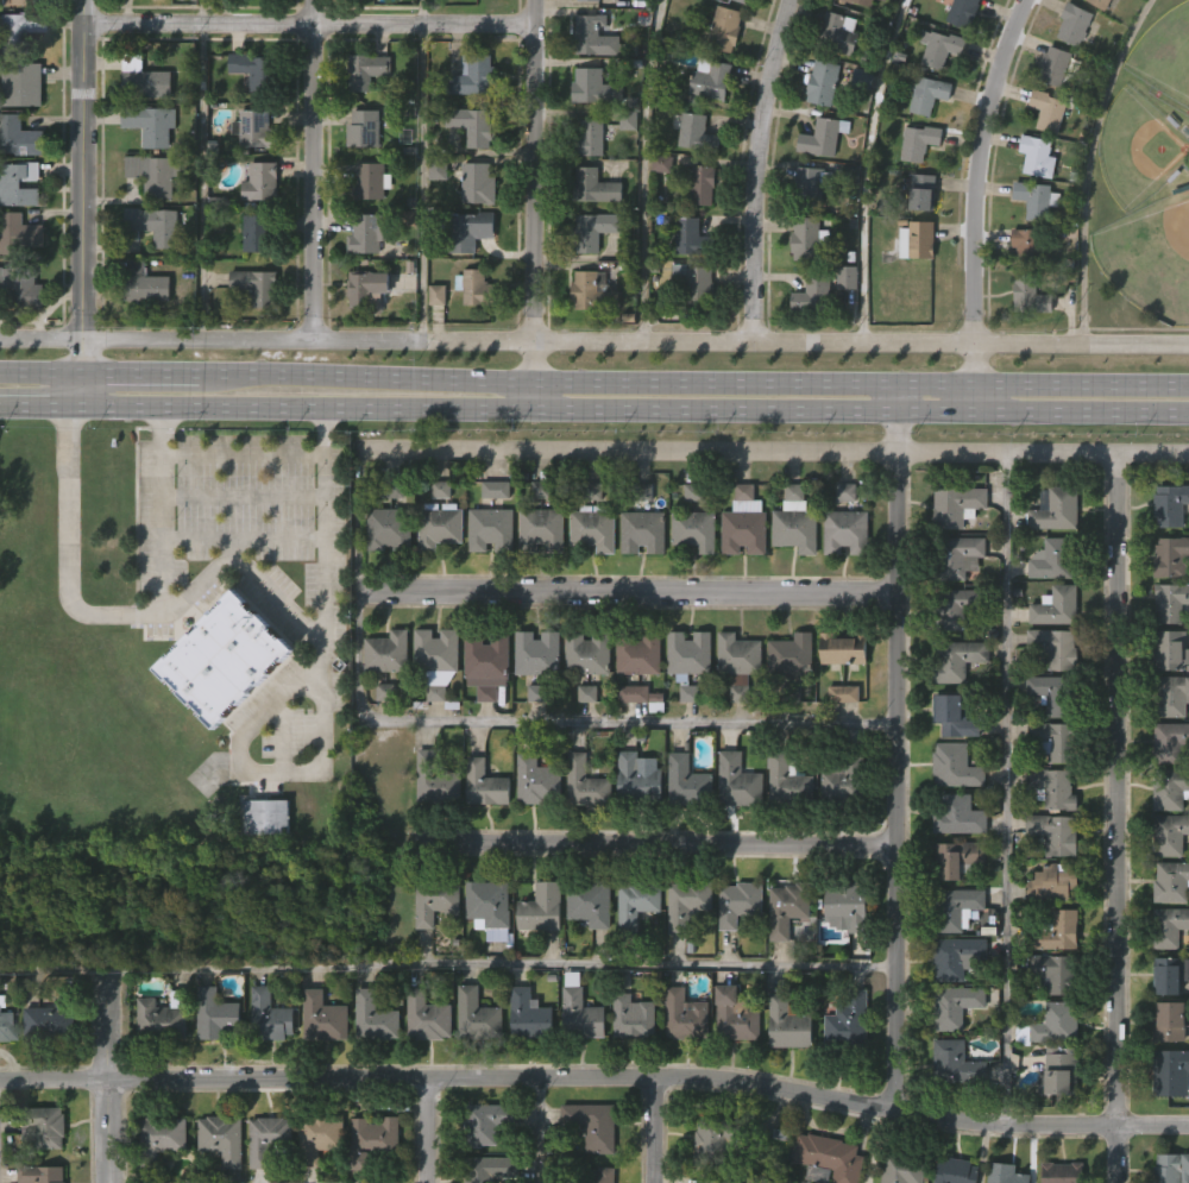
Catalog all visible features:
building: (746, 0)
building: (13, 1)
building: (34, 1)
building: (864, 2)
building: (1100, 4)
building: (962, 11)
building: (149, 17)
building: (244, 17)
building: (358, 21)
building: (466, 23)
building: (1075, 23)
road: (309, 25)
building: (18, 26)
building: (724, 27)
building: (838, 32)
building: (1095, 34)
building: (598, 37)
building: (944, 48)
park: (1164, 55)
building: (958, 57)
building: (1055, 64)
building: (253, 69)
building: (366, 69)
building: (1069, 73)
building: (472, 75)
building: (143, 77)
building: (710, 80)
building: (823, 81)
building: (20, 84)
building: (594, 86)
building: (927, 92)
building: (1049, 109)
building: (150, 124)
building: (472, 125)
building: (363, 127)
building: (253, 128)
building: (697, 132)
building: (17, 136)
building: (823, 136)
building: (587, 138)
building: (920, 141)
park: (1137, 150)
building: (1038, 156)
road: (1087, 168)
road: (317, 169)
road: (202, 170)
road: (421, 170)
road: (755, 170)
building: (152, 171)
road: (642, 171)
road: (864, 171)
building: (259, 181)
building: (369, 181)
building: (18, 183)
building: (476, 183)
building: (702, 183)
building: (811, 184)
road: (84, 185)
building: (593, 185)
road: (537, 189)
building: (923, 190)
building: (1037, 197)
road: (976, 201)
building: (656, 213)
building: (433, 220)
building: (157, 225)
building: (466, 229)
building: (592, 229)
building: (256, 232)
building: (367, 233)
building: (17, 234)
building: (690, 235)
building: (809, 238)
building: (917, 240)
building: (1030, 245)
park: (1151, 258)
building: (144, 283)
building: (254, 284)
building: (697, 285)
building: (19, 287)
building: (370, 287)
building: (474, 287)
building: (800, 289)
building: (912, 289)
building: (593, 290)
building: (813, 294)
building: (1032, 295)
building: (842, 326)
building: (692, 329)
building: (140, 333)
building: (251, 334)
building: (363, 336)
building: (471, 336)
building: (19, 338)
building: (589, 338)
road: (594, 342)
building: (433, 344)
building: (807, 345)
building: (1025, 345)
road: (40, 370)
road: (140, 371)
road: (367, 373)
road: (863, 380)
road: (75, 388)
road: (537, 395)
road: (33, 403)
road: (628, 409)
road: (245, 451)
road: (773, 452)
building: (496, 489)
road: (244, 495)
building: (1171, 504)
building: (957, 505)
building: (1057, 509)
road: (161, 510)
road: (357, 521)
building: (797, 522)
building: (744, 523)
building: (439, 526)
building: (388, 528)
building: (593, 528)
building: (491, 529)
building: (541, 529)
building: (694, 530)
building: (643, 531)
building: (847, 531)
road: (243, 540)
building: (956, 556)
building: (1171, 556)
building: (1055, 559)
road: (220, 562)
building: (791, 571)
building: (740, 572)
building: (435, 575)
building: (384, 577)
building: (537, 577)
building: (486, 578)
building: (589, 579)
building: (690, 579)
building: (841, 580)
building: (637, 581)
road: (630, 591)
building: (1172, 603)
building: (958, 605)
building: (1057, 606)
building: (1057, 647)
building: (1169, 648)
building: (844, 649)
building: (386, 652)
building: (589, 652)
building: (688, 653)
building: (537, 654)
building: (792, 654)
building: (225, 657)
building: (436, 660)
building: (957, 660)
building: (487, 663)
building: (738, 663)
building: (640, 667)
building: (843, 693)
building: (1055, 694)
building: (1170, 696)
building: (383, 700)
building: (533, 701)
building: (432, 703)
building: (581, 703)
building: (684, 703)
building: (786, 703)
building: (634, 704)
building: (219, 707)
building: (734, 711)
building: (483, 713)
road: (567, 717)
building: (955, 717)
road: (282, 734)
building: (382, 741)
building: (432, 741)
building: (533, 741)
building: (1056, 741)
building: (583, 742)
building: (684, 742)
building: (838, 742)
building: (1170, 742)
building: (636, 745)
road: (901, 747)
building: (956, 767)
road: (271, 772)
building: (788, 778)
building: (435, 779)
building: (536, 781)
building: (637, 781)
building: (688, 782)
building: (738, 782)
building: (586, 784)
building: (845, 784)
building: (484, 785)
building: (1053, 788)
building: (1170, 788)
road: (1007, 789)
building: (957, 814)
building: (265, 817)
road: (1121, 819)
building: (634, 825)
building: (837, 828)
building: (430, 829)
building: (682, 829)
building: (531, 830)
building: (732, 830)
building: (580, 831)
building: (782, 831)
building: (480, 832)
building: (1055, 833)
building: (1171, 835)
road: (660, 843)
building: (957, 860)
building: (262, 864)
building: (1172, 882)
building: (1052, 883)
building: (435, 901)
building: (589, 904)
building: (738, 904)
building: (636, 905)
building: (850, 905)
building: (958, 907)
building: (541, 908)
building: (685, 908)
building: (490, 910)
building: (787, 910)
building: (1057, 930)
building: (1171, 930)
building: (630, 952)
building: (734, 952)
building: (430, 954)
building: (585, 954)
building: (682, 954)
building: (485, 956)
building: (536, 956)
building: (841, 956)
building: (781, 957)
building: (958, 958)
road: (449, 962)
building: (1056, 970)
building: (1170, 975)
building: (956, 1006)
building: (583, 1011)
building: (215, 1014)
building: (477, 1014)
building: (529, 1014)
building: (634, 1014)
building: (269, 1015)
building: (322, 1015)
building: (427, 1015)
building: (164, 1017)
building: (375, 1017)
building: (687, 1017)
building: (736, 1017)
building: (49, 1020)
building: (848, 1021)
building: (1171, 1021)
building: (788, 1024)
building: (1052, 1024)
building: (8, 1025)
building: (575, 1059)
building: (210, 1062)
building: (523, 1062)
building: (472, 1063)
building: (680, 1063)
building: (730, 1063)
building: (957, 1063)
building: (265, 1065)
building: (319, 1065)
building: (370, 1065)
building: (423, 1065)
building: (628, 1065)
building: (155, 1066)
building: (843, 1068)
building: (44, 1070)
building: (1059, 1070)
building: (782, 1072)
building: (1171, 1072)
building: (5, 1074)
road: (112, 1075)
road: (596, 1077)
building: (950, 1112)
building: (1053, 1119)
building: (1166, 1120)
building: (487, 1121)
building: (592, 1122)
building: (40, 1125)
road: (428, 1129)
road: (542, 1129)
road: (658, 1129)
building: (158, 1137)
building: (221, 1137)
building: (319, 1137)
building: (268, 1138)
building: (372, 1138)
building: (718, 1139)
building: (830, 1158)
building: (490, 1168)
building: (904, 1168)
building: (1172, 1168)
building: (956, 1171)
building: (1062, 1172)
building: (40, 1173)
building: (215, 1173)
building: (266, 1173)
building: (1006, 1173)
building: (158, 1175)
building: (316, 1175)
building: (370, 1175)
building: (599, 1175)
building: (704, 1177)
building: (797, 1182)

